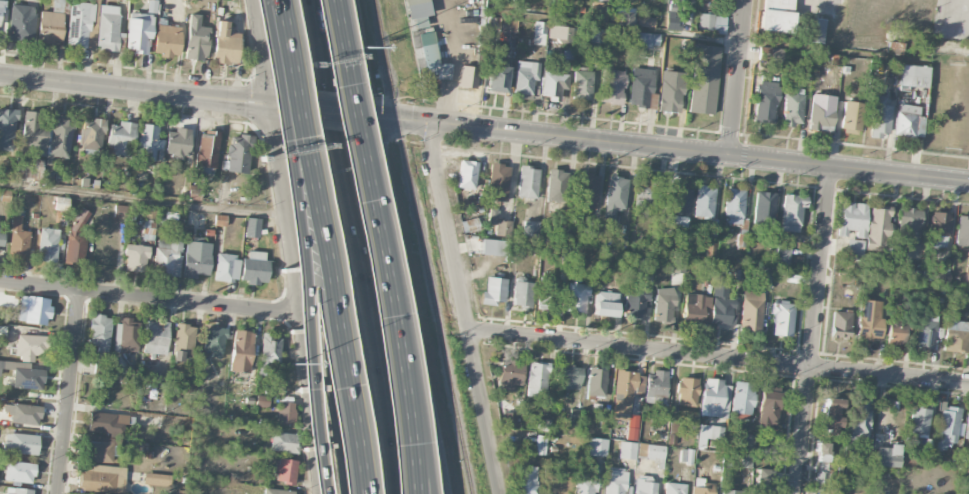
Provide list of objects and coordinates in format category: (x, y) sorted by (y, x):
building: (60, 6)
building: (0, 12)
building: (417, 13)
building: (673, 15)
building: (777, 15)
building: (626, 18)
building: (645, 21)
building: (22, 23)
building: (711, 23)
building: (508, 25)
building: (80, 26)
building: (50, 27)
building: (109, 29)
building: (815, 30)
building: (139, 33)
building: (540, 33)
building: (560, 33)
building: (594, 35)
building: (196, 39)
building: (647, 40)
road: (731, 40)
building: (167, 41)
building: (225, 45)
building: (770, 55)
building: (428, 57)
road: (453, 62)
building: (914, 76)
building: (468, 77)
road: (737, 78)
building: (525, 79)
building: (704, 79)
building: (554, 83)
building: (641, 84)
building: (582, 85)
building: (612, 87)
road: (146, 92)
building: (670, 92)
building: (765, 102)
building: (792, 108)
road: (322, 112)
building: (821, 114)
building: (852, 117)
building: (880, 117)
building: (908, 121)
building: (7, 129)
building: (34, 134)
building: (92, 136)
building: (59, 137)
building: (122, 138)
building: (178, 143)
building: (147, 144)
road: (660, 149)
building: (207, 150)
building: (238, 154)
building: (29, 168)
building: (467, 175)
building: (498, 183)
building: (527, 183)
building: (556, 185)
building: (587, 191)
building: (194, 193)
building: (645, 195)
building: (615, 196)
road: (142, 198)
building: (679, 201)
building: (704, 202)
building: (61, 204)
building: (734, 206)
building: (764, 208)
building: (120, 211)
building: (792, 212)
building: (149, 214)
building: (492, 216)
building: (852, 219)
building: (469, 225)
building: (878, 226)
building: (908, 227)
building: (252, 228)
building: (503, 228)
building: (531, 229)
building: (939, 229)
building: (148, 230)
building: (962, 231)
building: (77, 237)
building: (18, 239)
building: (2, 240)
building: (742, 240)
building: (48, 245)
road: (377, 245)
road: (290, 246)
road: (300, 246)
road: (322, 246)
road: (337, 246)
road: (366, 246)
railway: (422, 247)
building: (493, 248)
building: (854, 248)
building: (787, 254)
building: (167, 257)
building: (136, 258)
building: (678, 265)
building: (195, 266)
building: (226, 267)
building: (254, 268)
building: (967, 270)
building: (762, 274)
building: (935, 275)
building: (495, 291)
building: (523, 293)
building: (547, 295)
road: (150, 297)
building: (576, 298)
building: (635, 303)
building: (606, 304)
road: (411, 305)
building: (664, 305)
building: (721, 305)
road: (463, 309)
building: (696, 309)
building: (34, 310)
building: (751, 311)
building: (782, 319)
building: (869, 320)
building: (840, 324)
road: (814, 331)
building: (925, 333)
building: (100, 334)
building: (894, 334)
building: (955, 334)
building: (156, 337)
building: (214, 341)
building: (183, 342)
building: (30, 347)
building: (241, 351)
building: (269, 352)
road: (718, 358)
building: (16, 365)
building: (0, 367)
building: (510, 375)
building: (569, 377)
building: (28, 379)
building: (537, 379)
building: (596, 382)
building: (277, 388)
building: (656, 388)
road: (69, 392)
building: (687, 392)
building: (626, 393)
building: (714, 398)
building: (742, 398)
building: (262, 401)
road: (322, 404)
building: (769, 407)
building: (285, 413)
building: (23, 414)
building: (831, 414)
building: (574, 418)
building: (509, 419)
building: (605, 419)
building: (859, 419)
building: (919, 420)
building: (107, 422)
building: (967, 426)
building: (948, 427)
building: (673, 429)
building: (709, 434)
building: (284, 443)
building: (21, 444)
building: (597, 447)
building: (627, 450)
building: (651, 453)
road: (419, 454)
building: (686, 456)
building: (886, 456)
road: (436, 461)
building: (99, 466)
building: (821, 467)
building: (968, 467)
building: (285, 471)
building: (19, 472)
building: (158, 480)
building: (529, 480)
building: (588, 480)
building: (764, 480)
building: (616, 481)
building: (646, 486)
building: (701, 487)
building: (674, 488)
building: (17, 491)
building: (277, 491)
building: (729, 492)

